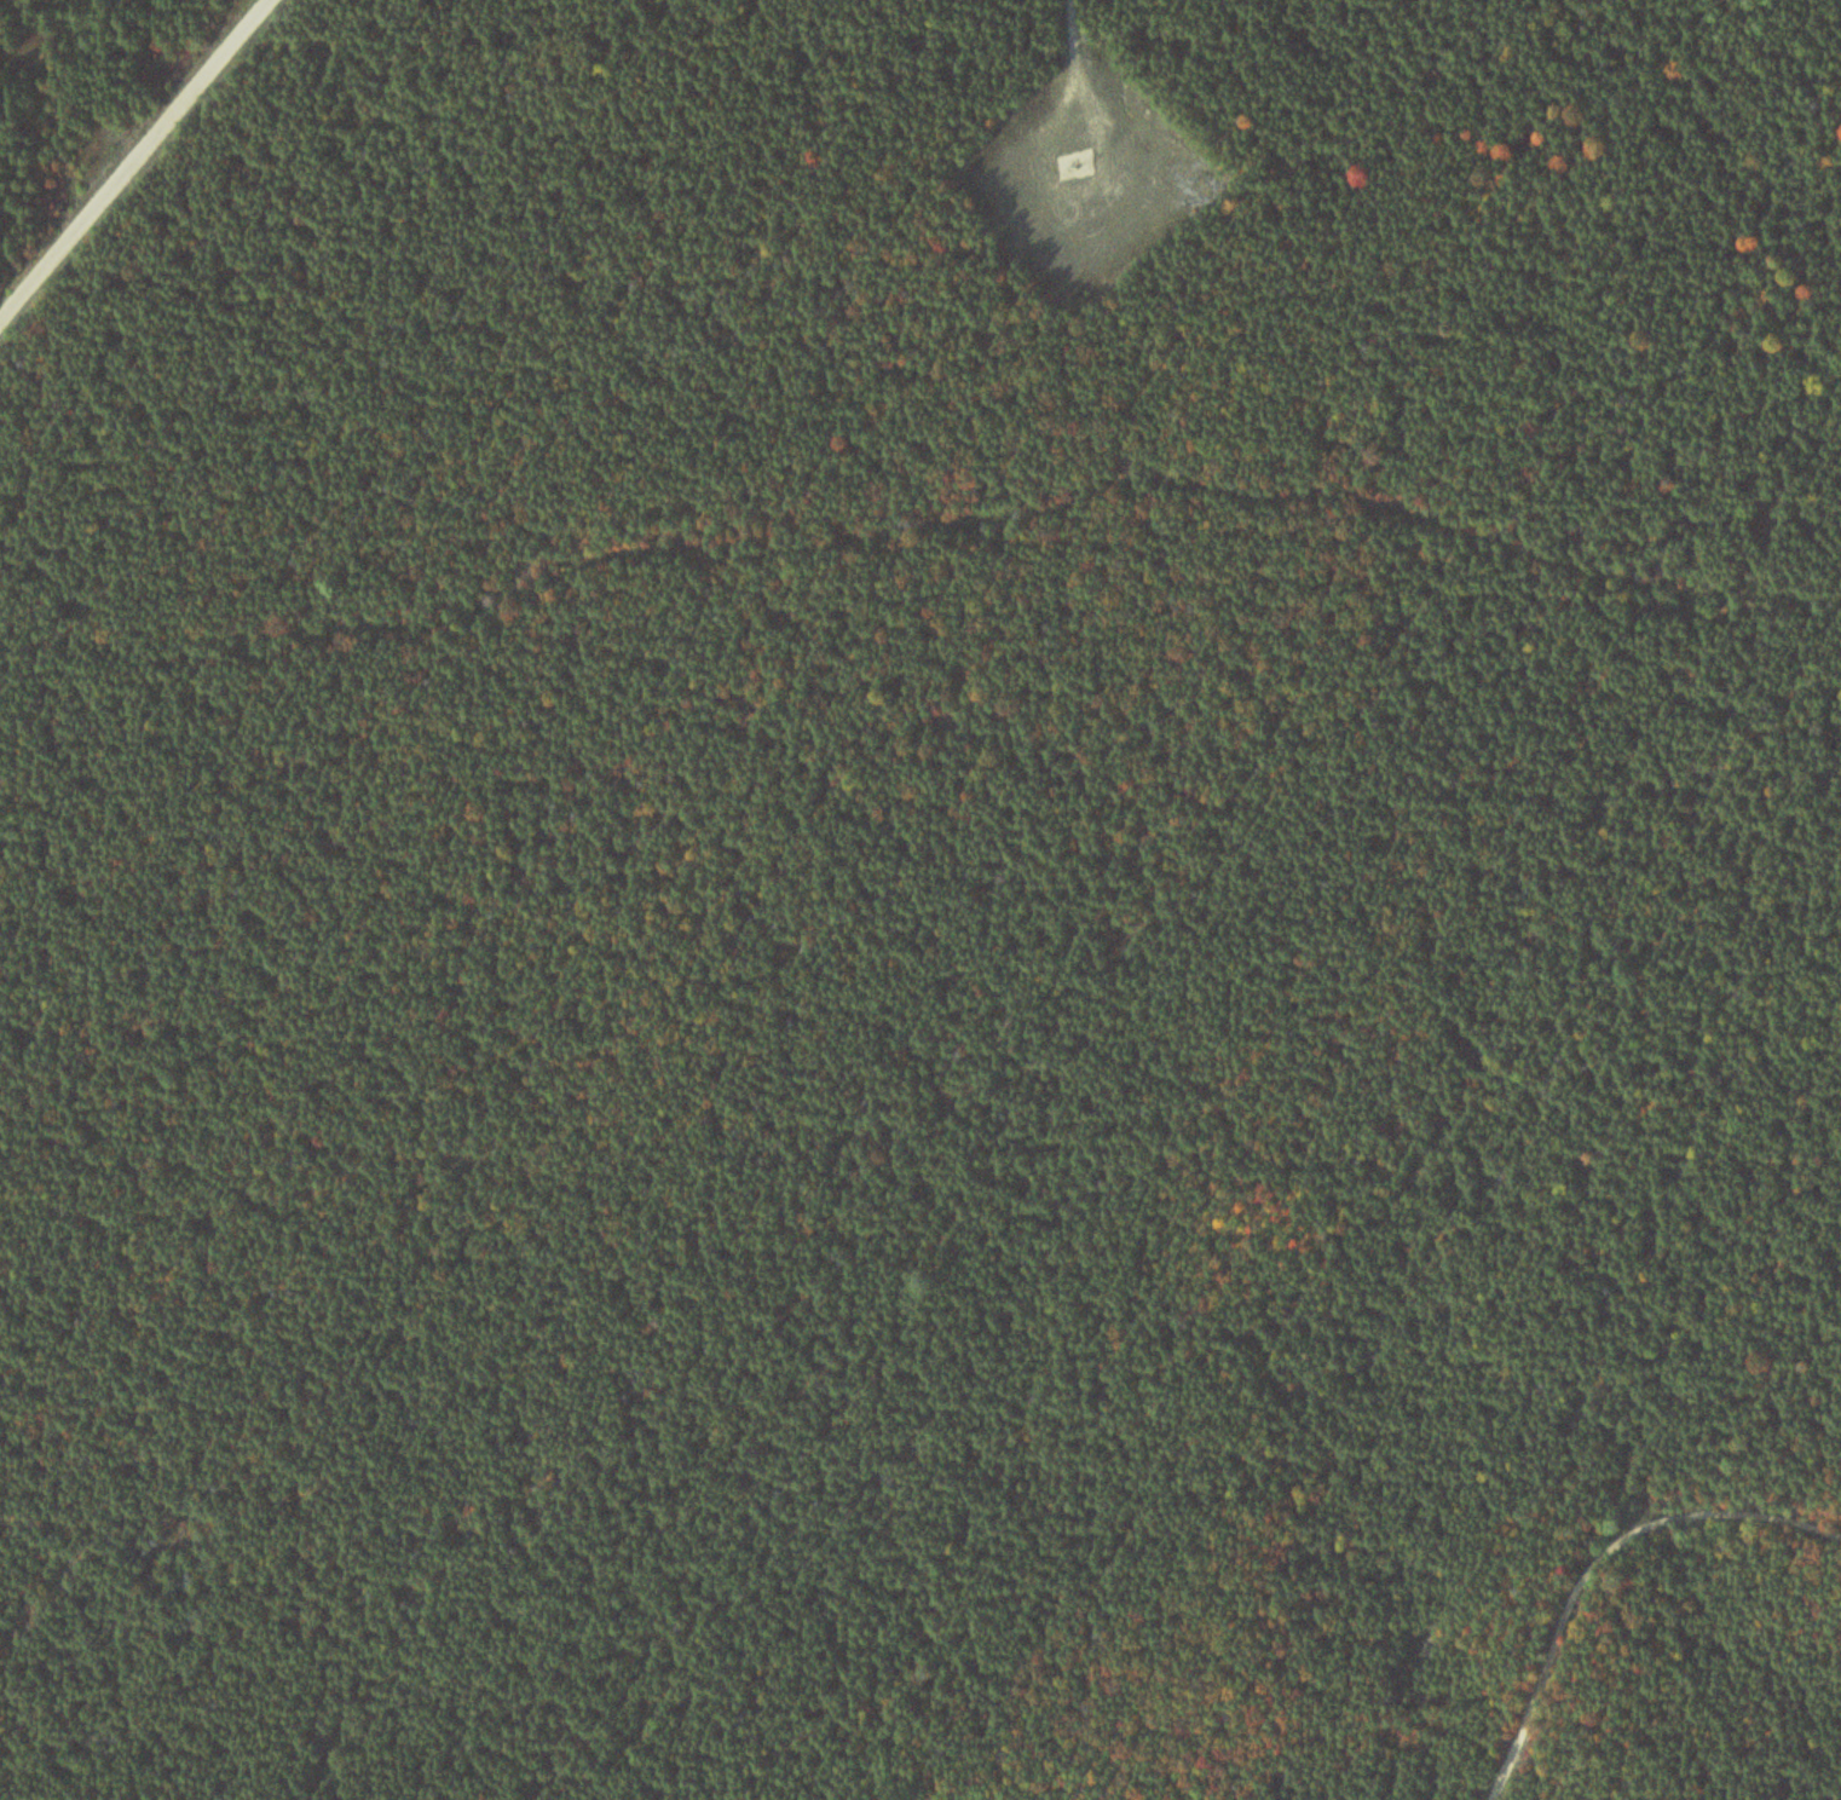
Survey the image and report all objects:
road: (1079, 51)
road: (138, 165)
petroleum well: (1085, 167)
road: (1709, 1512)
road: (1549, 1685)

